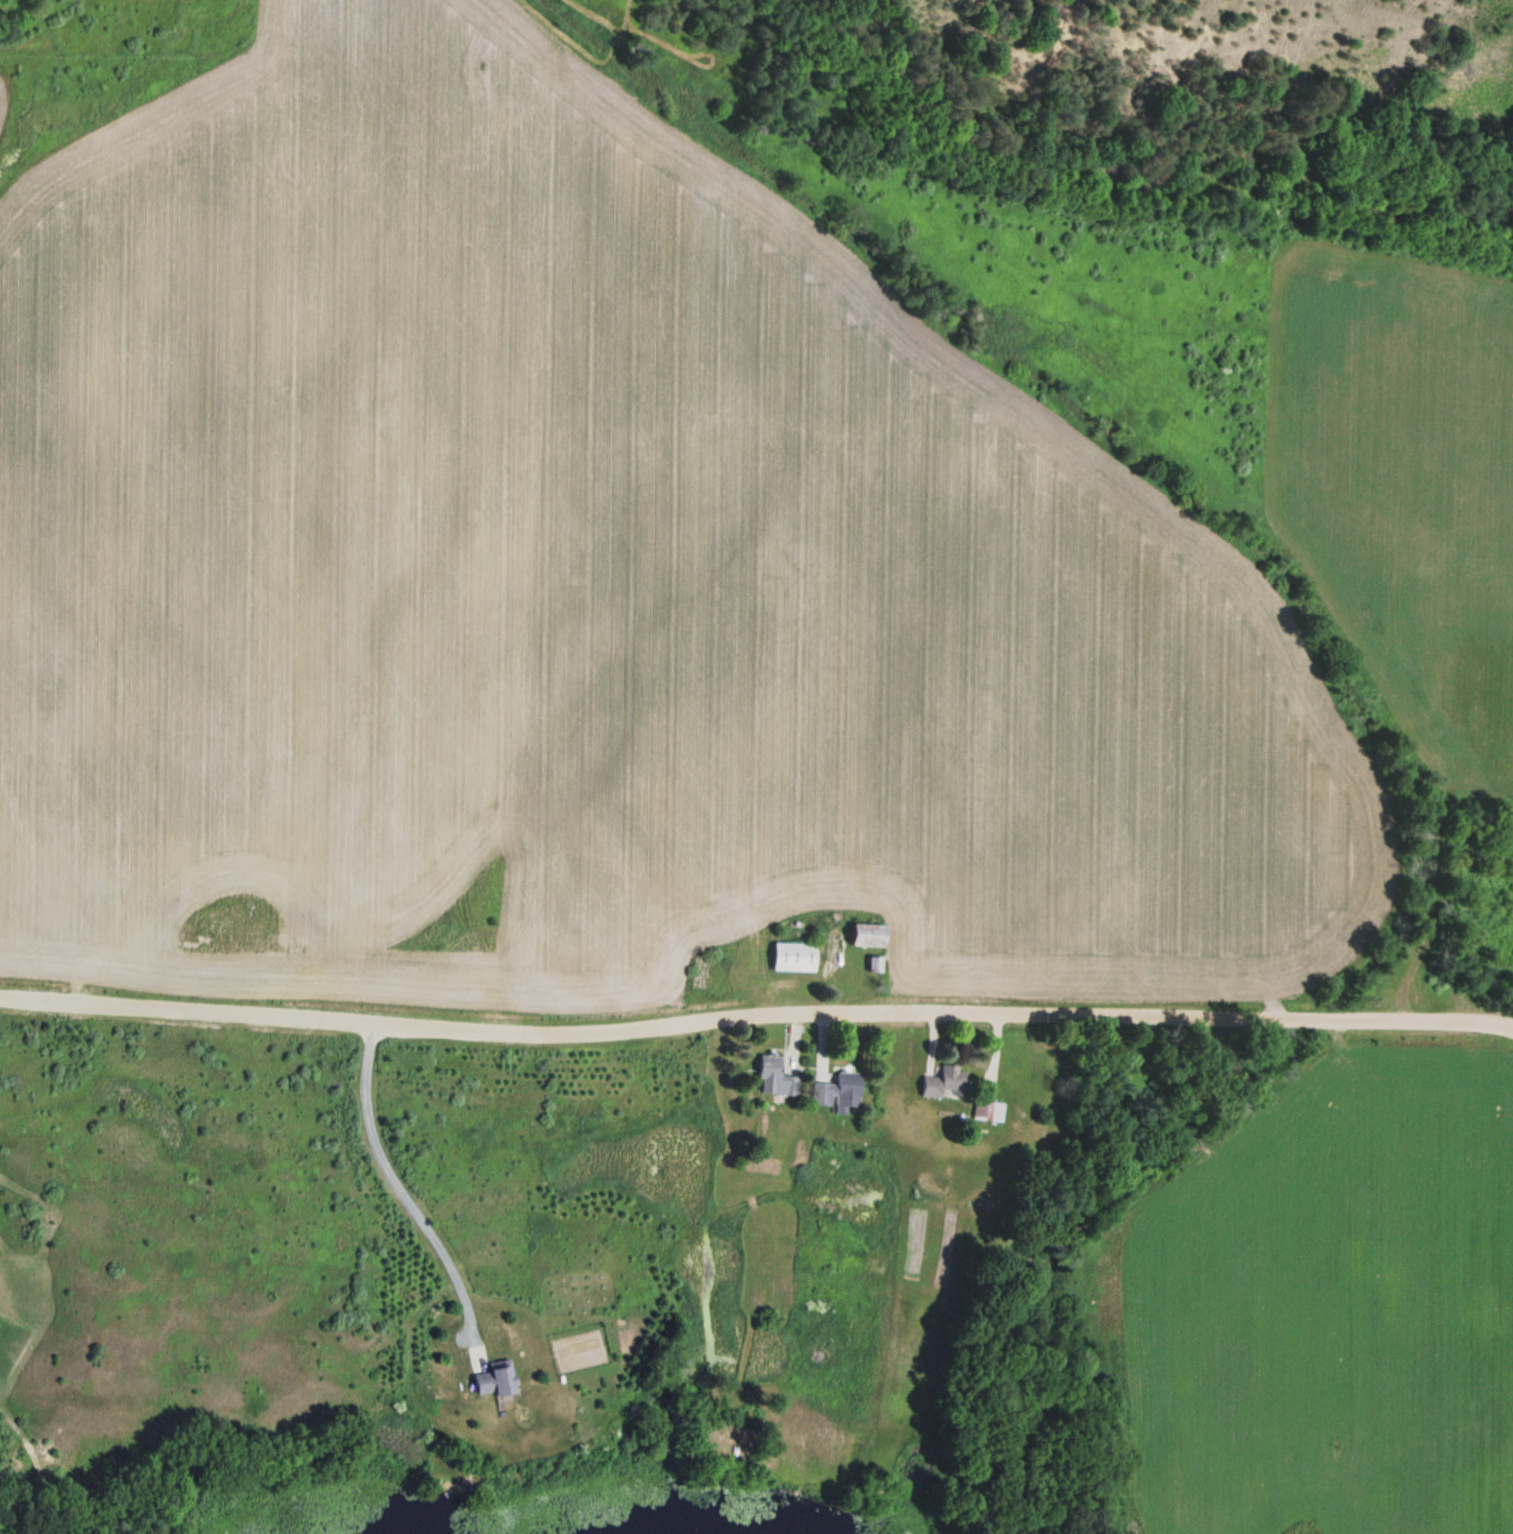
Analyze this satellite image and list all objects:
building: (867, 934)
building: (793, 955)
road: (755, 1014)
building: (776, 1075)
building: (945, 1082)
building: (838, 1091)
building: (988, 1110)
building: (494, 1376)

